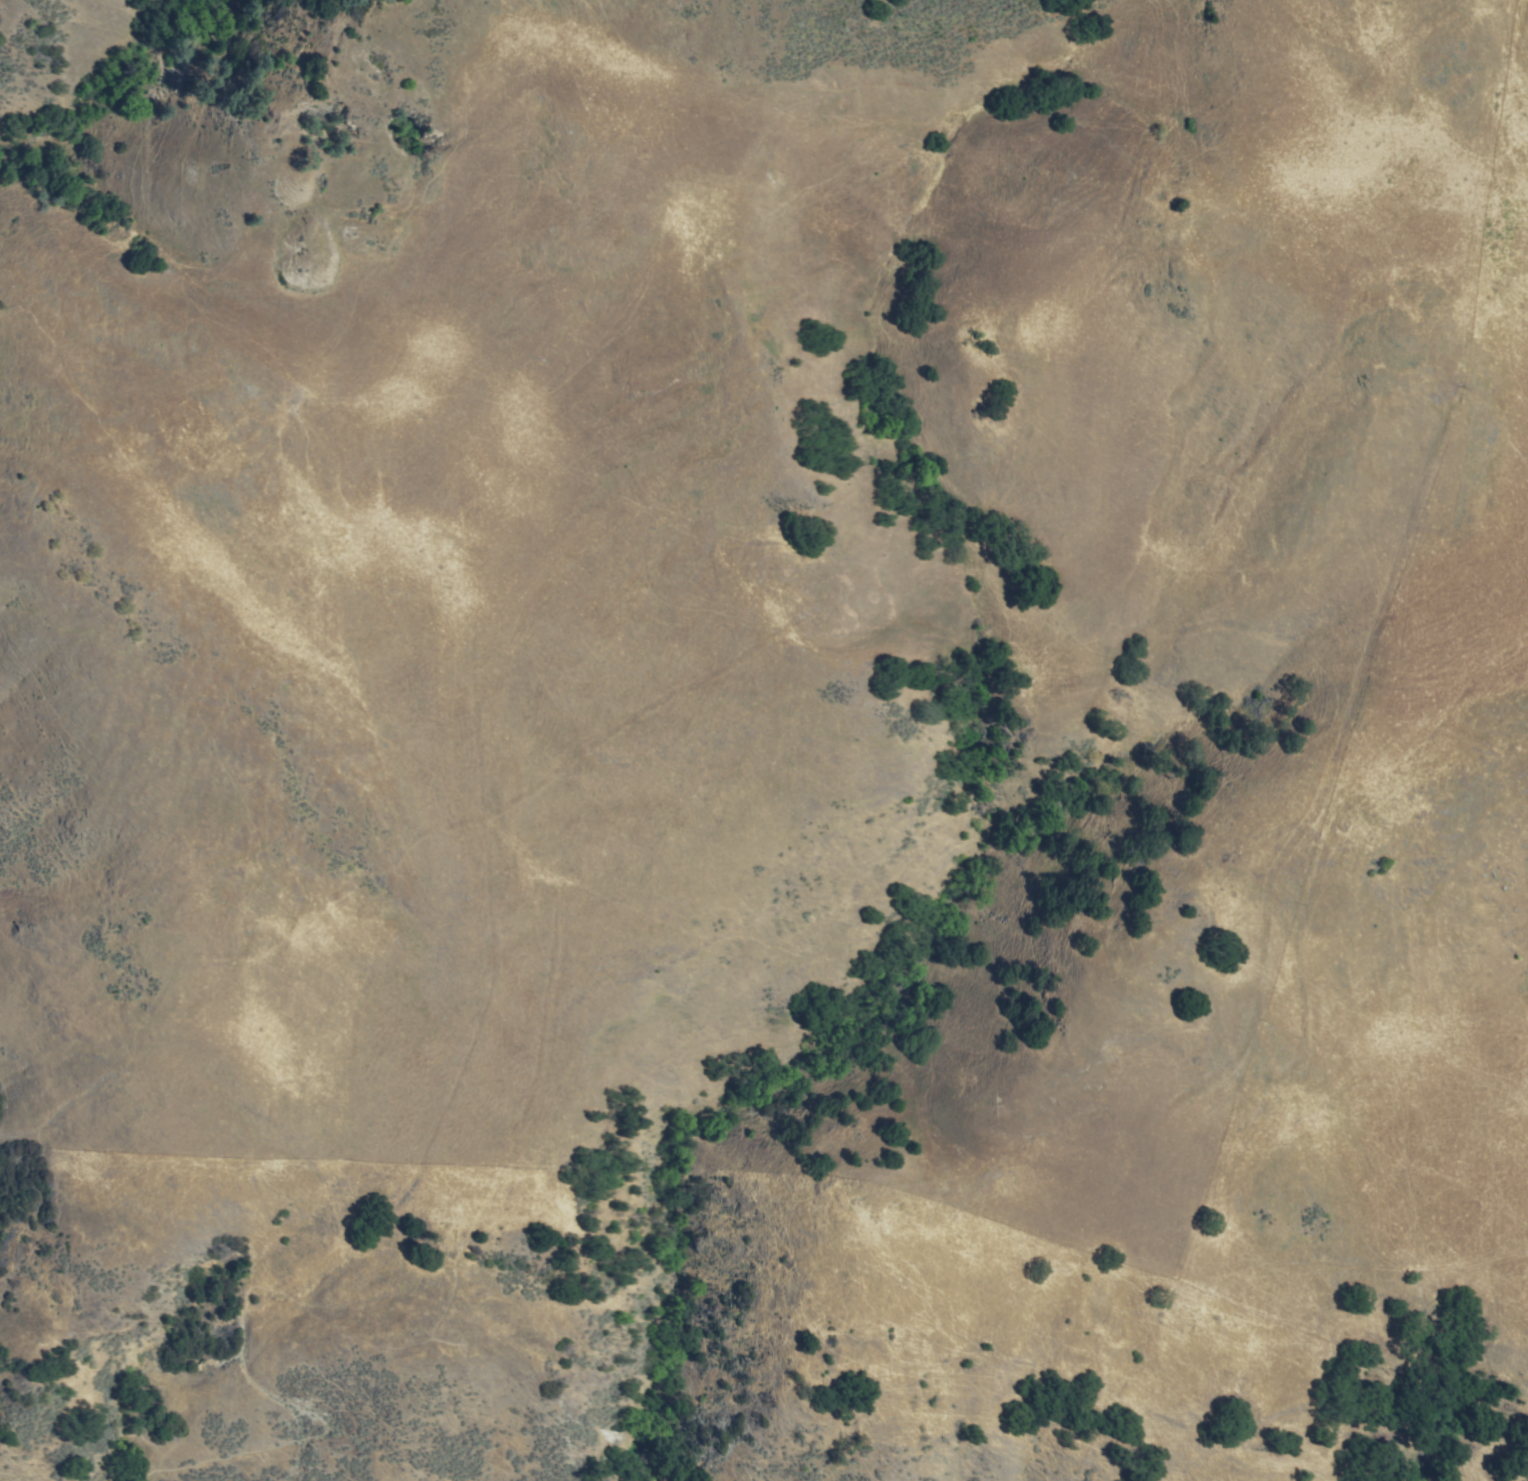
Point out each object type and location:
road: (257, 1272)

